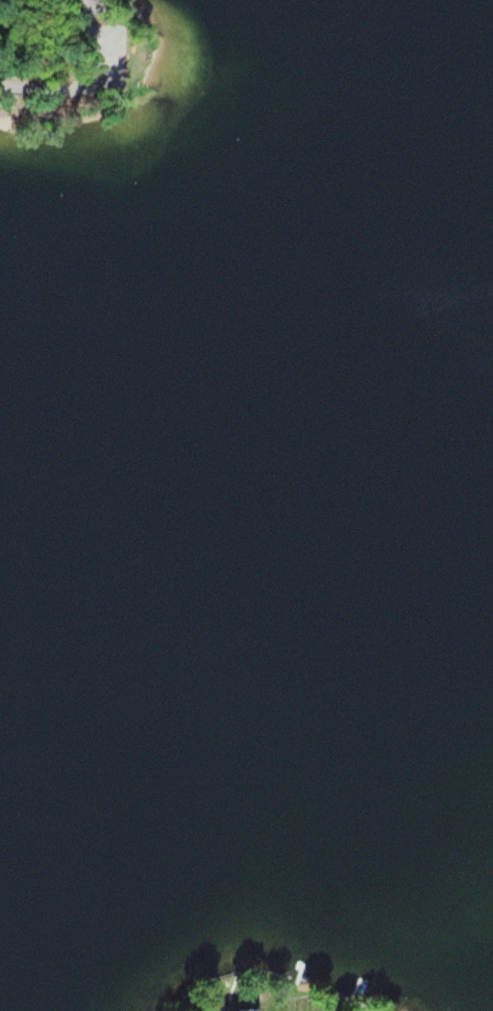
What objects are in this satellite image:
parking lot: (108, 50)
park: (74, 63)
road: (93, 80)

